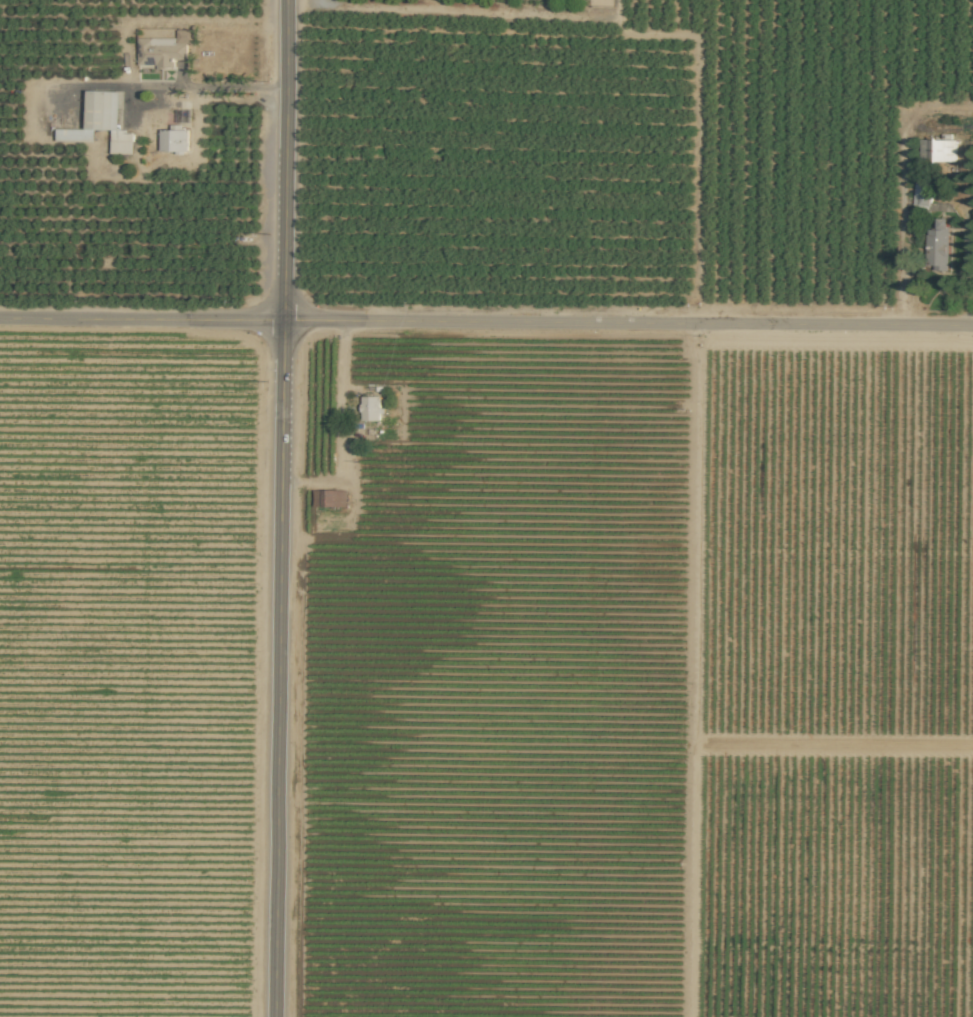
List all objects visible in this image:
building: (164, 49)
road: (181, 86)
building: (102, 122)
building: (174, 140)
building: (938, 150)
building: (921, 196)
building: (938, 246)
road: (486, 320)
building: (371, 408)
building: (330, 497)
road: (281, 508)

